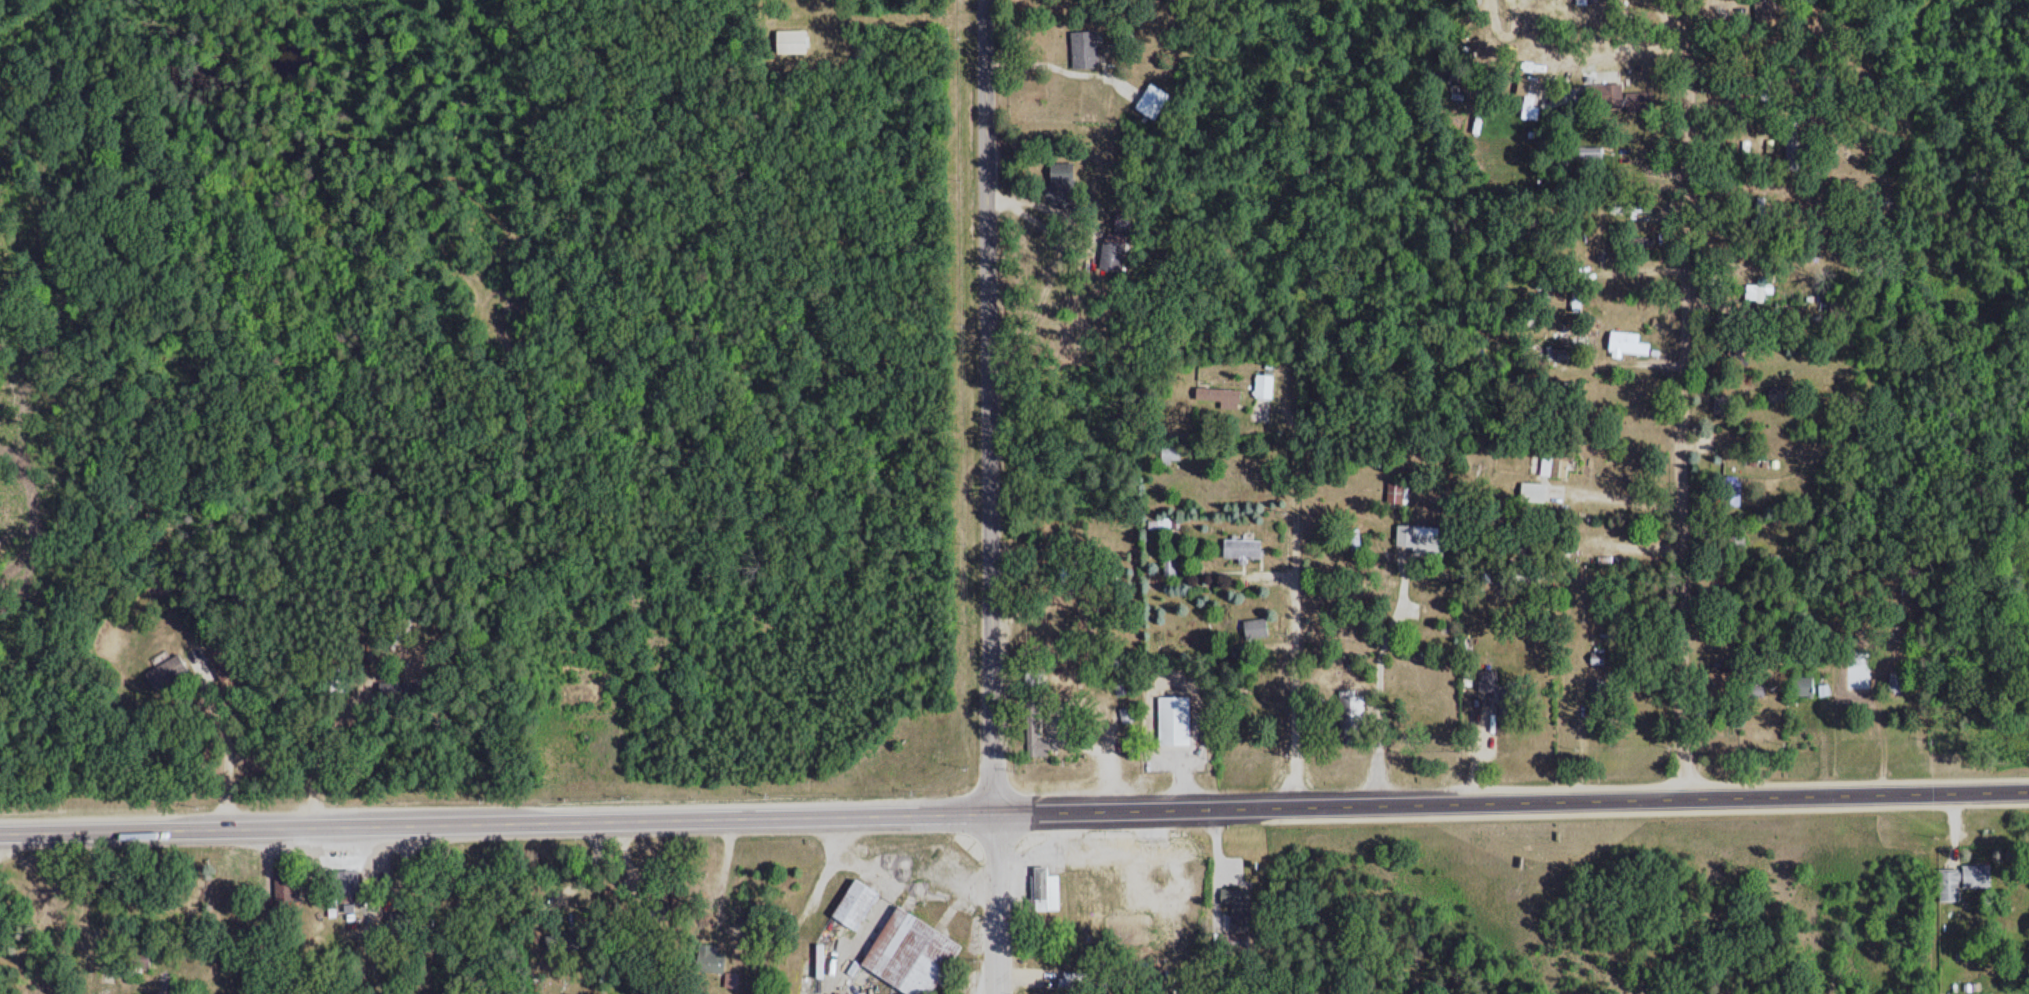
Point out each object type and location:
building: (796, 41)
building: (1089, 50)
building: (1531, 90)
building: (1607, 97)
building: (1156, 101)
building: (1588, 153)
building: (1641, 243)
building: (1577, 305)
building: (1614, 347)
building: (1555, 354)
building: (1267, 387)
building: (1222, 400)
road: (1688, 400)
road: (988, 403)
building: (1556, 462)
building: (1730, 491)
building: (1530, 492)
building: (1397, 493)
building: (1417, 537)
building: (1239, 548)
building: (1169, 564)
road: (1289, 591)
building: (1254, 627)
building: (1596, 658)
building: (167, 668)
road: (1189, 683)
building: (1896, 684)
building: (1801, 686)
building: (1755, 690)
building: (1348, 705)
building: (1173, 719)
building: (1034, 735)
parking lot: (1175, 758)
road: (1511, 802)
road: (497, 820)
building: (342, 874)
building: (1976, 877)
building: (1949, 885)
building: (290, 886)
building: (1092, 886)
building: (1042, 890)
building: (1229, 896)
road: (996, 900)
building: (851, 905)
building: (1237, 921)
building: (907, 954)
building: (707, 962)
building: (844, 979)

